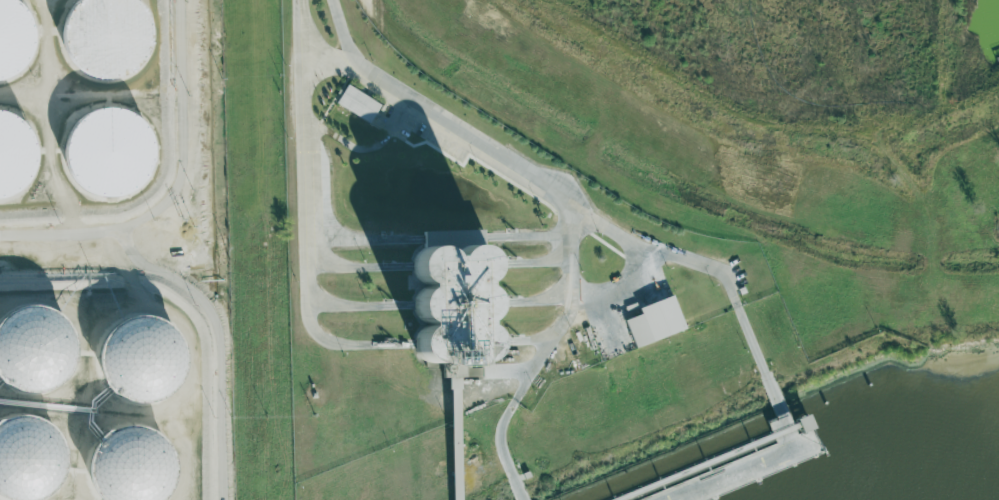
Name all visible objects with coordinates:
building: (12, 39)
building: (356, 103)
building: (13, 156)
road: (555, 206)
building: (444, 300)
building: (653, 322)
road: (322, 336)
building: (19, 451)
pier: (765, 466)

